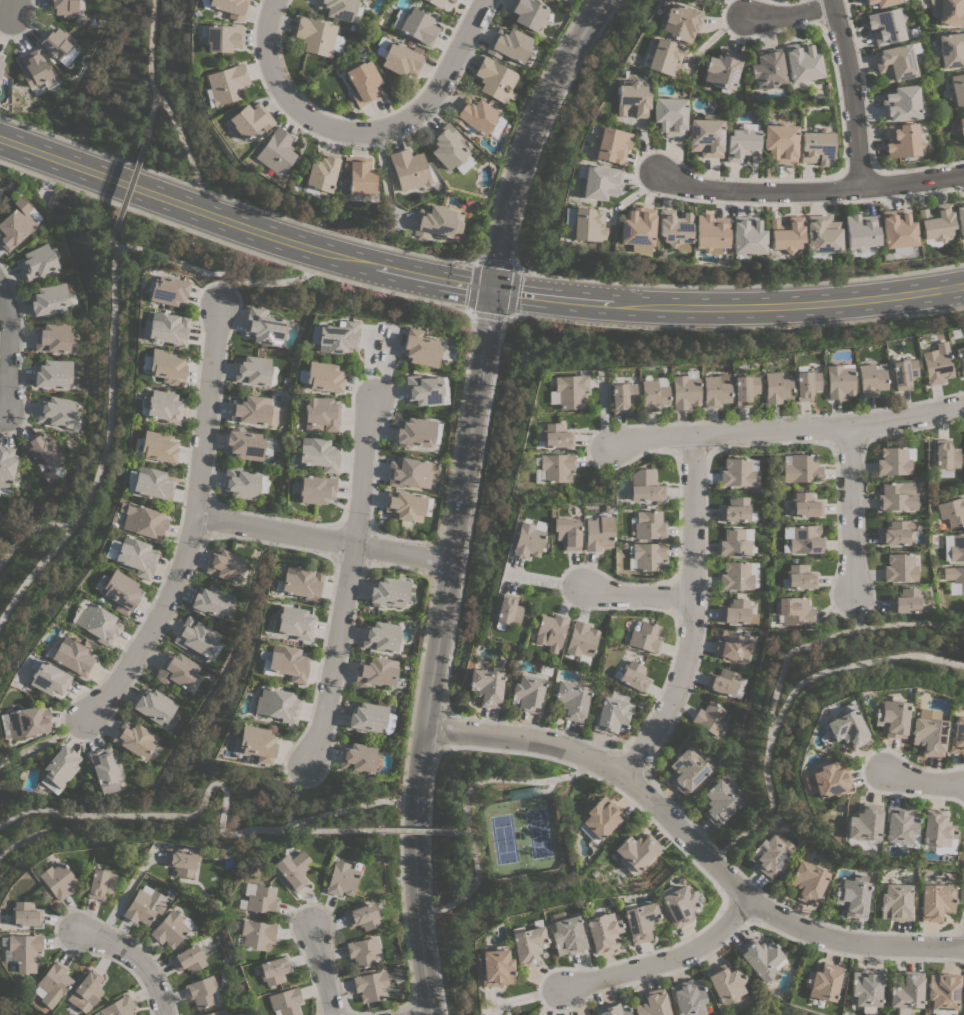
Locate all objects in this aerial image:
building: (452, 0)
building: (693, 0)
building: (698, 1)
building: (882, 2)
building: (436, 3)
road: (18, 6)
building: (64, 7)
building: (230, 8)
building: (932, 8)
building: (341, 9)
building: (950, 12)
building: (527, 13)
road: (794, 17)
building: (680, 22)
building: (415, 25)
building: (885, 25)
building: (315, 36)
building: (220, 37)
building: (57, 45)
building: (509, 45)
building: (951, 50)
building: (663, 56)
building: (0, 57)
building: (399, 57)
building: (802, 61)
building: (894, 62)
building: (1, 66)
building: (767, 69)
building: (35, 70)
building: (722, 70)
road: (149, 75)
building: (495, 79)
building: (363, 82)
building: (225, 84)
building: (956, 90)
road: (849, 93)
building: (632, 99)
building: (900, 103)
building: (670, 115)
building: (474, 116)
building: (249, 120)
building: (960, 127)
road: (363, 132)
building: (706, 135)
road: (527, 137)
building: (902, 140)
building: (742, 142)
building: (780, 142)
building: (611, 144)
building: (446, 146)
building: (816, 147)
road: (184, 148)
building: (276, 152)
building: (409, 169)
building: (321, 172)
building: (359, 175)
building: (598, 181)
road: (125, 188)
road: (807, 190)
building: (55, 203)
building: (959, 216)
building: (435, 222)
building: (936, 222)
building: (17, 223)
building: (583, 223)
building: (637, 229)
building: (674, 229)
building: (897, 231)
building: (710, 233)
building: (786, 234)
building: (861, 234)
building: (746, 235)
building: (822, 236)
road: (231, 245)
building: (37, 262)
road: (512, 268)
road: (220, 275)
road: (471, 286)
building: (166, 290)
traffic signals: (492, 290)
building: (49, 299)
building: (263, 327)
building: (165, 328)
building: (337, 337)
building: (53, 338)
building: (420, 348)
road: (7, 353)
building: (960, 358)
building: (936, 363)
building: (166, 366)
building: (252, 370)
building: (903, 372)
building: (53, 373)
building: (322, 377)
building: (870, 379)
road: (108, 380)
building: (839, 380)
building: (806, 384)
building: (743, 386)
building: (775, 387)
building: (423, 389)
building: (715, 390)
building: (568, 391)
building: (683, 392)
building: (652, 393)
building: (620, 394)
building: (162, 406)
building: (251, 410)
building: (56, 411)
building: (320, 414)
road: (454, 426)
building: (415, 432)
road: (790, 433)
building: (556, 435)
building: (244, 444)
building: (156, 446)
building: (318, 454)
building: (946, 455)
building: (44, 456)
building: (894, 460)
building: (6, 465)
building: (556, 466)
building: (800, 468)
building: (736, 472)
building: (408, 473)
building: (149, 483)
building: (240, 483)
building: (645, 486)
building: (316, 489)
building: (896, 496)
building: (405, 505)
building: (806, 505)
building: (735, 509)
building: (952, 511)
road: (849, 512)
road: (471, 513)
building: (142, 520)
road: (193, 522)
building: (648, 525)
road: (29, 529)
building: (566, 532)
building: (598, 532)
building: (896, 532)
building: (527, 538)
building: (805, 539)
road: (321, 540)
building: (735, 542)
building: (953, 546)
building: (132, 555)
building: (648, 556)
road: (434, 559)
building: (225, 565)
building: (899, 567)
road: (32, 570)
building: (736, 576)
building: (799, 576)
building: (954, 579)
building: (301, 582)
road: (345, 582)
building: (118, 591)
building: (388, 592)
road: (634, 595)
building: (211, 601)
building: (905, 601)
road: (854, 610)
building: (506, 611)
building: (794, 611)
building: (737, 612)
road: (688, 614)
building: (95, 621)
building: (293, 622)
building: (550, 631)
building: (380, 636)
building: (645, 636)
building: (195, 637)
building: (581, 641)
building: (731, 645)
road: (434, 651)
building: (71, 656)
building: (284, 662)
road: (856, 663)
building: (176, 670)
building: (376, 673)
building: (633, 676)
building: (48, 678)
road: (776, 679)
building: (724, 683)
building: (487, 685)
building: (530, 690)
building: (572, 699)
building: (277, 704)
building: (154, 706)
building: (610, 716)
building: (891, 717)
building: (370, 718)
building: (710, 718)
building: (25, 722)
building: (846, 728)
road: (436, 730)
building: (927, 732)
building: (957, 735)
building: (135, 739)
road: (47, 743)
building: (257, 743)
building: (360, 758)
building: (59, 769)
building: (105, 769)
building: (687, 769)
building: (830, 779)
road: (925, 781)
road: (401, 788)
road: (206, 791)
building: (719, 802)
road: (463, 807)
road: (337, 811)
building: (602, 817)
building: (864, 824)
building: (901, 826)
road: (410, 830)
road: (453, 830)
building: (938, 831)
road: (691, 843)
building: (636, 851)
building: (768, 855)
building: (181, 863)
building: (292, 869)
building: (341, 879)
building: (56, 880)
road: (428, 882)
building: (807, 882)
building: (99, 883)
building: (852, 897)
building: (261, 900)
building: (935, 901)
building: (896, 902)
building: (679, 906)
building: (140, 908)
building: (24, 914)
building: (363, 916)
building: (639, 920)
building: (170, 928)
building: (601, 931)
building: (256, 934)
building: (567, 935)
building: (527, 943)
building: (23, 951)
building: (362, 951)
road: (133, 957)
building: (189, 958)
building: (761, 958)
road: (666, 964)
building: (495, 967)
building: (273, 970)
road: (319, 970)
building: (397, 973)
building: (726, 982)
building: (823, 982)
building: (52, 984)
building: (370, 986)
building: (88, 987)
building: (866, 989)
building: (907, 990)
building: (943, 990)
building: (201, 991)
building: (688, 996)
building: (285, 1001)
building: (652, 1003)
building: (118, 1007)
road: (412, 1008)
building: (611, 1009)
building: (216, 1012)

